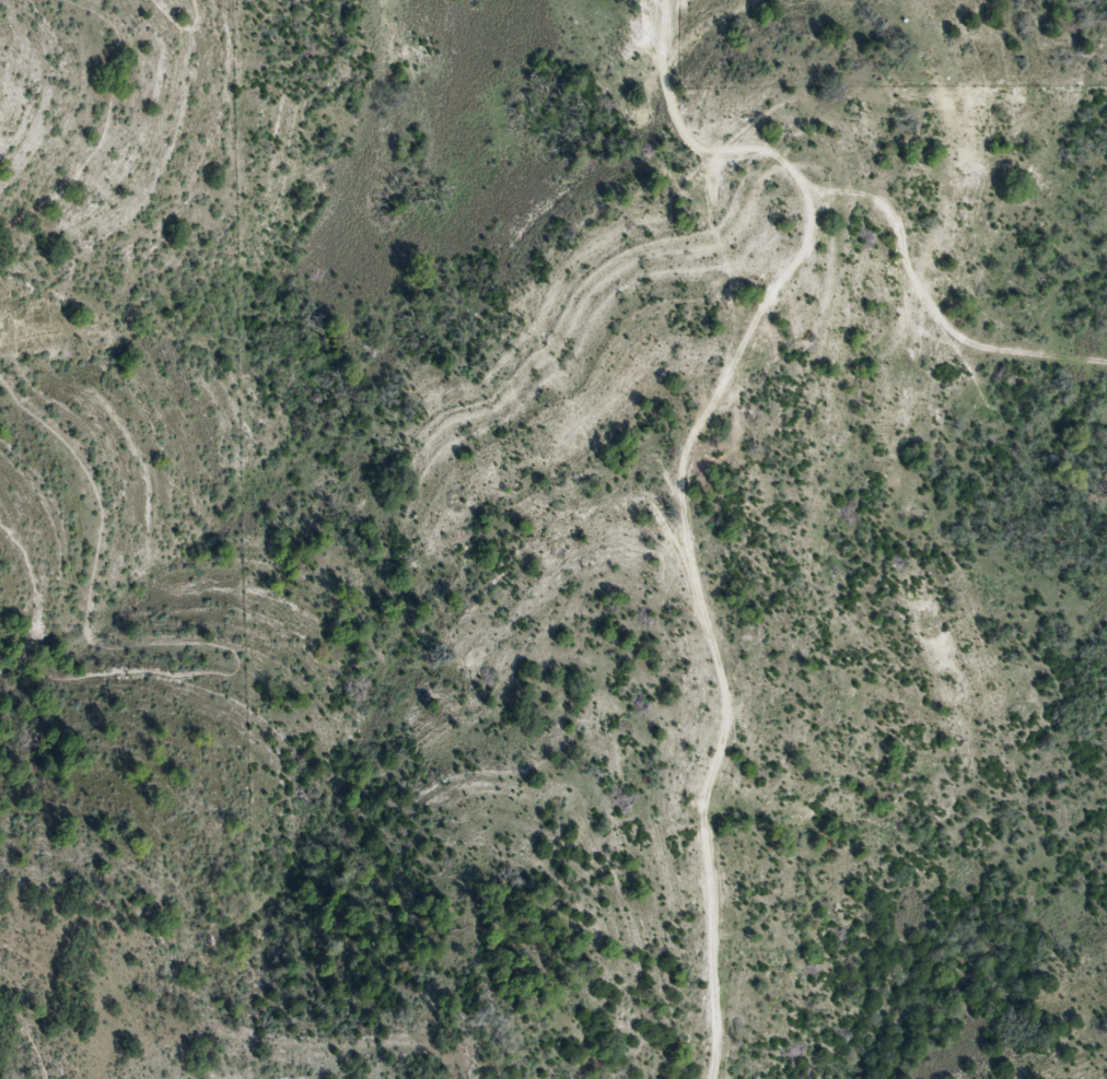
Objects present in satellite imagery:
road: (24, 1043)

